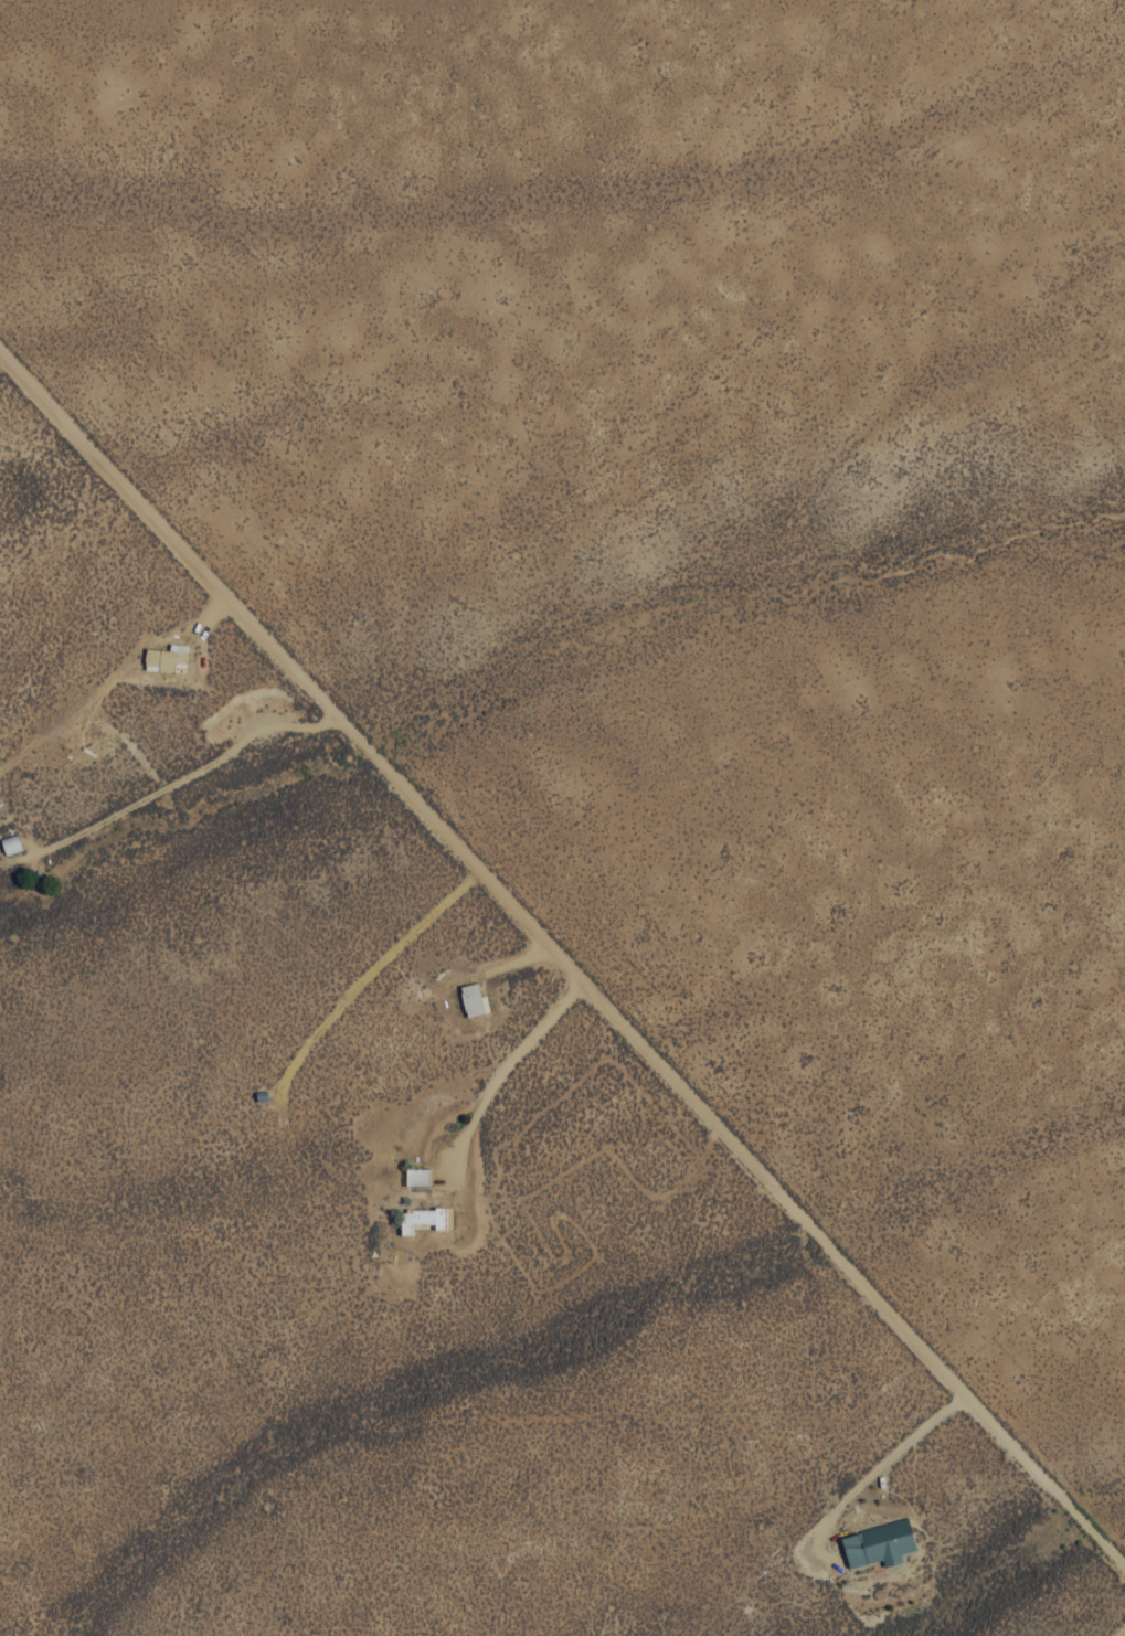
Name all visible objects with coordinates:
road: (289, 671)
road: (264, 745)
road: (852, 1277)

